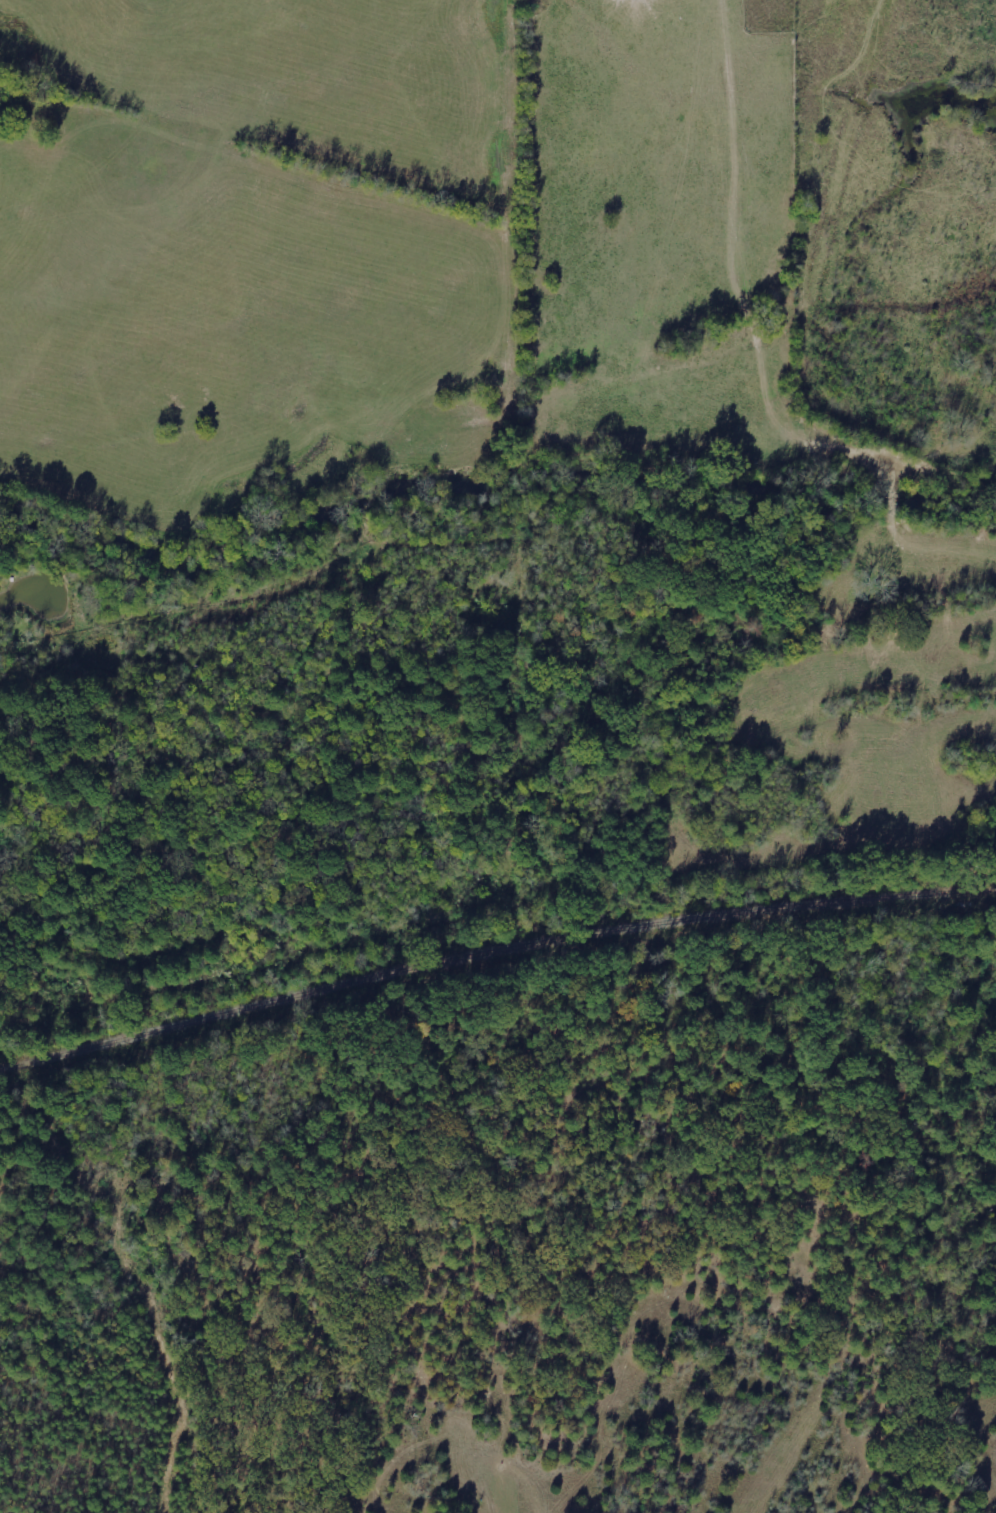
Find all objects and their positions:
railway: (492, 952)

